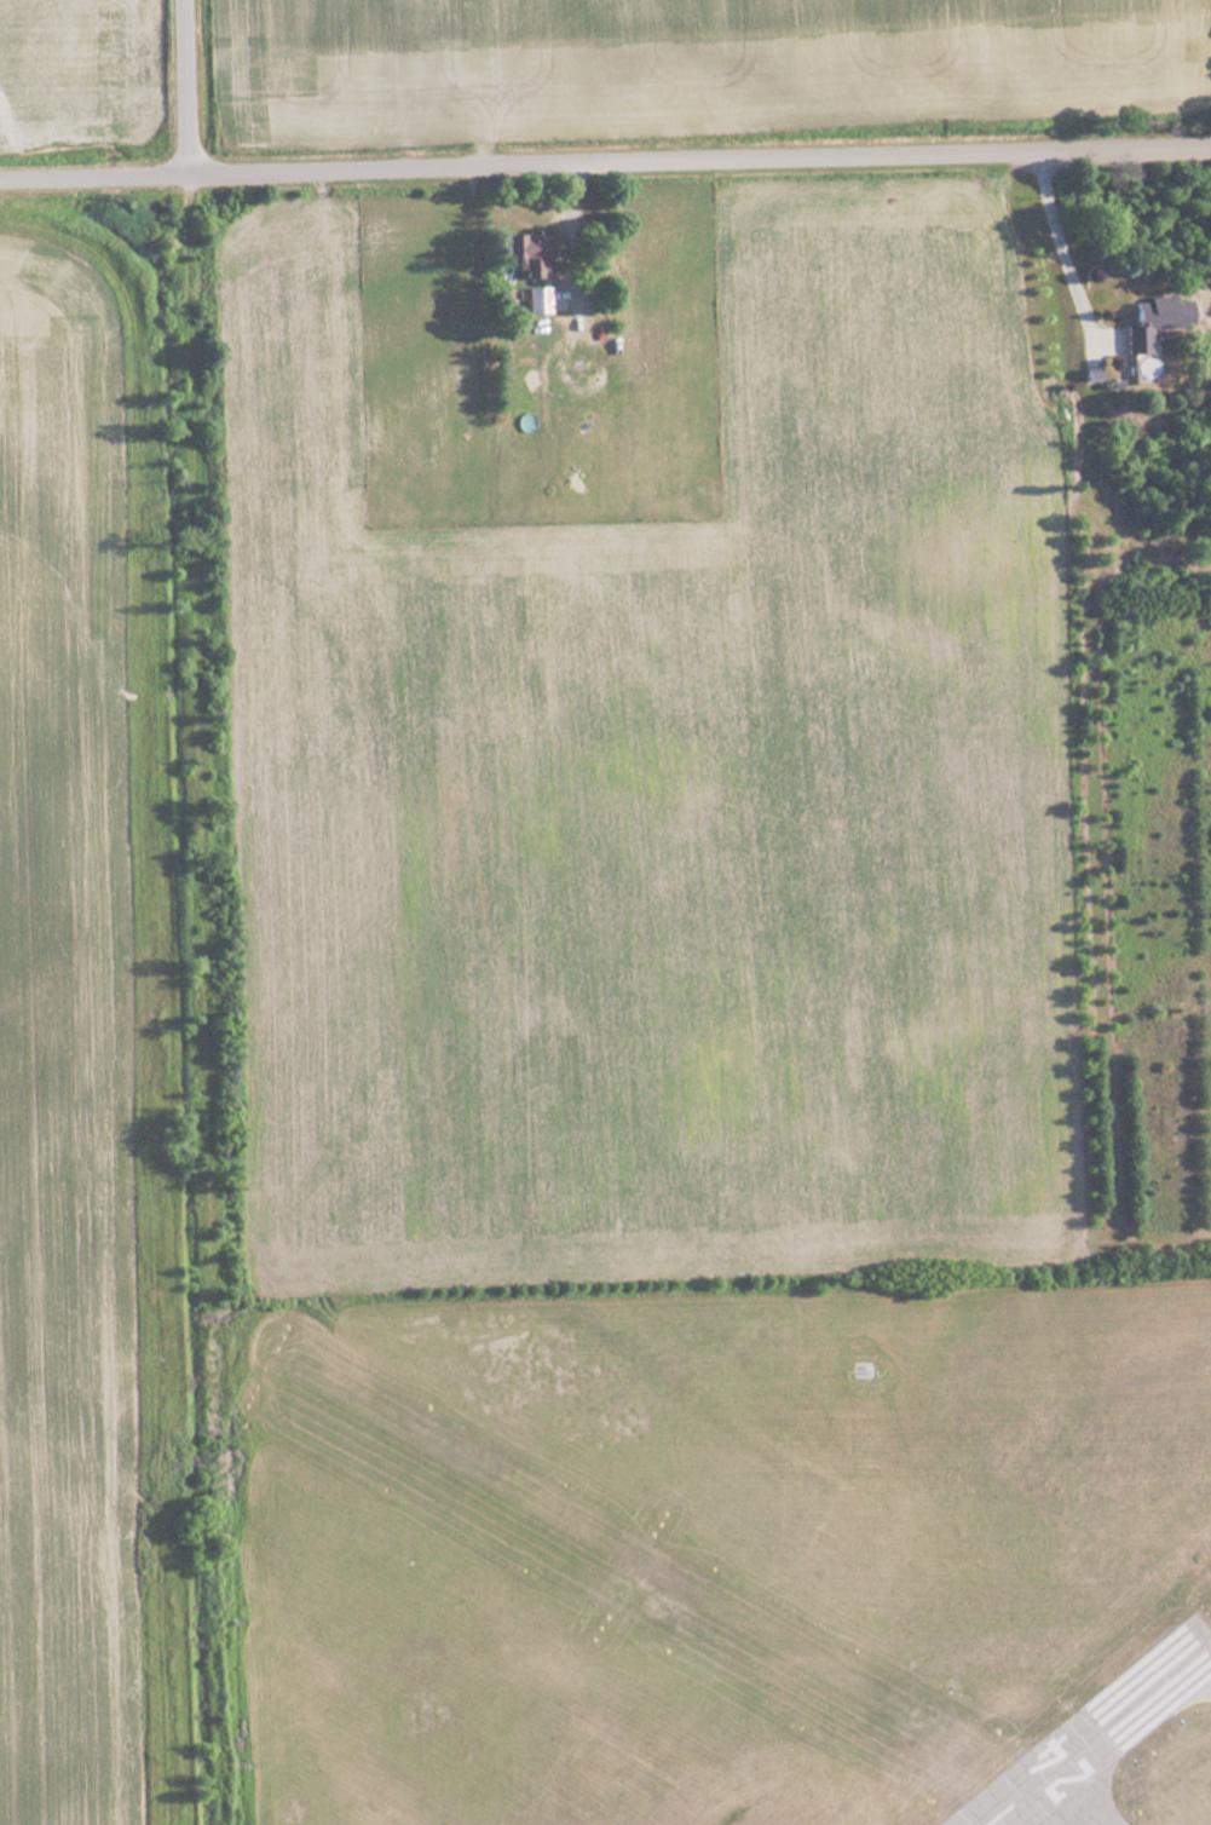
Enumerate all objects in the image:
road: (184, 86)
road: (605, 163)
road: (185, 224)
road: (1067, 247)
building: (521, 252)
building: (534, 298)
building: (1147, 318)
airport taxiway: (1203, 1651)
airport runway: (1091, 1727)

